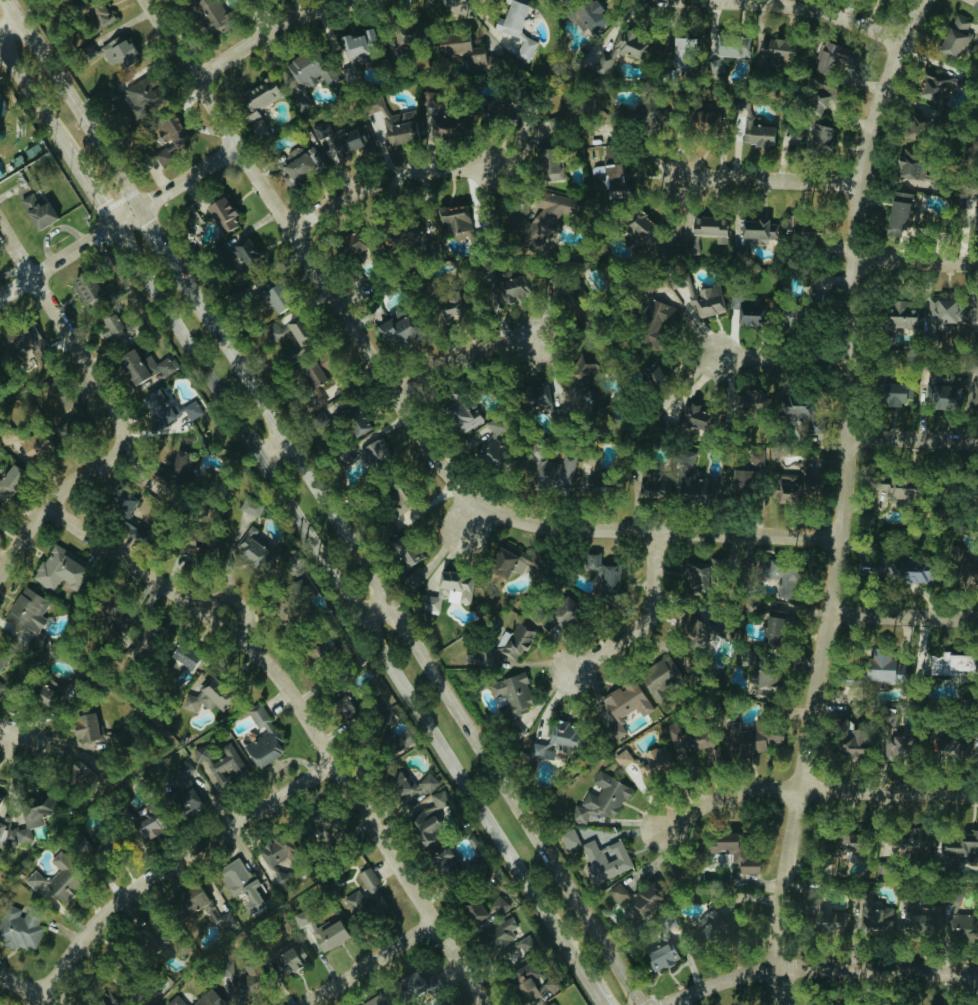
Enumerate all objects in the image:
building: (886, 0)
building: (107, 10)
building: (210, 13)
building: (588, 15)
building: (850, 15)
road: (851, 15)
road: (8, 16)
building: (407, 28)
building: (513, 28)
road: (274, 33)
building: (957, 35)
building: (452, 43)
building: (352, 45)
building: (745, 45)
building: (126, 49)
building: (773, 49)
building: (621, 50)
building: (684, 51)
building: (722, 53)
road: (3, 55)
building: (834, 55)
building: (484, 58)
building: (350, 72)
building: (310, 73)
building: (935, 85)
road: (31, 94)
building: (149, 96)
building: (815, 101)
building: (258, 102)
building: (5, 105)
building: (501, 112)
building: (649, 115)
building: (390, 120)
building: (715, 120)
building: (449, 124)
building: (918, 124)
building: (756, 130)
building: (45, 137)
building: (819, 138)
building: (178, 139)
building: (339, 139)
road: (72, 158)
building: (301, 162)
building: (908, 164)
building: (547, 168)
building: (615, 177)
road: (776, 177)
road: (388, 181)
road: (98, 198)
traffic signals: (142, 208)
building: (47, 210)
building: (549, 212)
building: (899, 213)
building: (233, 215)
building: (974, 216)
road: (122, 220)
building: (456, 220)
building: (639, 222)
traffic signals: (115, 225)
building: (711, 227)
building: (758, 231)
building: (411, 234)
building: (801, 235)
building: (350, 244)
building: (695, 244)
building: (258, 253)
road: (315, 255)
road: (917, 260)
building: (511, 287)
building: (98, 289)
building: (702, 297)
building: (290, 298)
building: (449, 308)
building: (977, 309)
building: (751, 313)
building: (947, 313)
building: (900, 317)
building: (657, 321)
building: (118, 325)
building: (407, 327)
building: (309, 329)
building: (525, 333)
building: (11, 343)
building: (41, 349)
building: (303, 351)
building: (2, 355)
road: (784, 356)
road: (464, 360)
building: (153, 366)
road: (97, 368)
building: (582, 368)
building: (653, 371)
building: (334, 379)
building: (976, 392)
building: (900, 395)
building: (945, 396)
building: (763, 402)
building: (166, 407)
building: (197, 409)
building: (349, 409)
building: (472, 410)
building: (699, 418)
building: (817, 420)
road: (914, 438)
building: (499, 443)
building: (38, 446)
road: (274, 451)
building: (386, 457)
building: (195, 460)
building: (558, 472)
building: (17, 480)
building: (607, 482)
building: (746, 482)
building: (922, 488)
building: (710, 489)
building: (796, 489)
building: (416, 496)
building: (131, 500)
road: (847, 500)
road: (326, 502)
building: (261, 508)
road: (471, 519)
road: (664, 530)
building: (143, 532)
road: (25, 544)
building: (262, 550)
building: (961, 557)
building: (515, 560)
building: (68, 569)
building: (929, 570)
building: (794, 572)
building: (611, 573)
building: (714, 573)
building: (449, 591)
road: (348, 598)
road: (375, 609)
building: (32, 610)
building: (560, 610)
road: (906, 615)
road: (649, 620)
building: (695, 639)
building: (4, 658)
building: (948, 665)
building: (883, 674)
building: (656, 677)
building: (197, 695)
building: (509, 696)
building: (624, 700)
road: (311, 719)
building: (82, 727)
building: (511, 730)
road: (13, 734)
building: (261, 739)
building: (552, 741)
building: (707, 743)
building: (896, 743)
building: (621, 759)
building: (210, 772)
building: (73, 773)
road: (813, 790)
building: (601, 799)
building: (21, 817)
building: (313, 819)
building: (429, 826)
building: (138, 827)
building: (935, 846)
building: (827, 849)
building: (731, 852)
building: (270, 855)
building: (602, 860)
road: (158, 870)
building: (237, 883)
building: (50, 885)
building: (360, 896)
building: (636, 897)
building: (865, 907)
building: (479, 911)
building: (913, 916)
building: (223, 922)
building: (827, 922)
building: (18, 928)
building: (717, 933)
building: (327, 934)
building: (514, 959)
building: (657, 959)
building: (287, 962)
road: (378, 964)
road: (879, 970)
road: (723, 980)
building: (413, 985)
road: (593, 987)
building: (206, 999)
building: (375, 1000)
building: (551, 1004)

